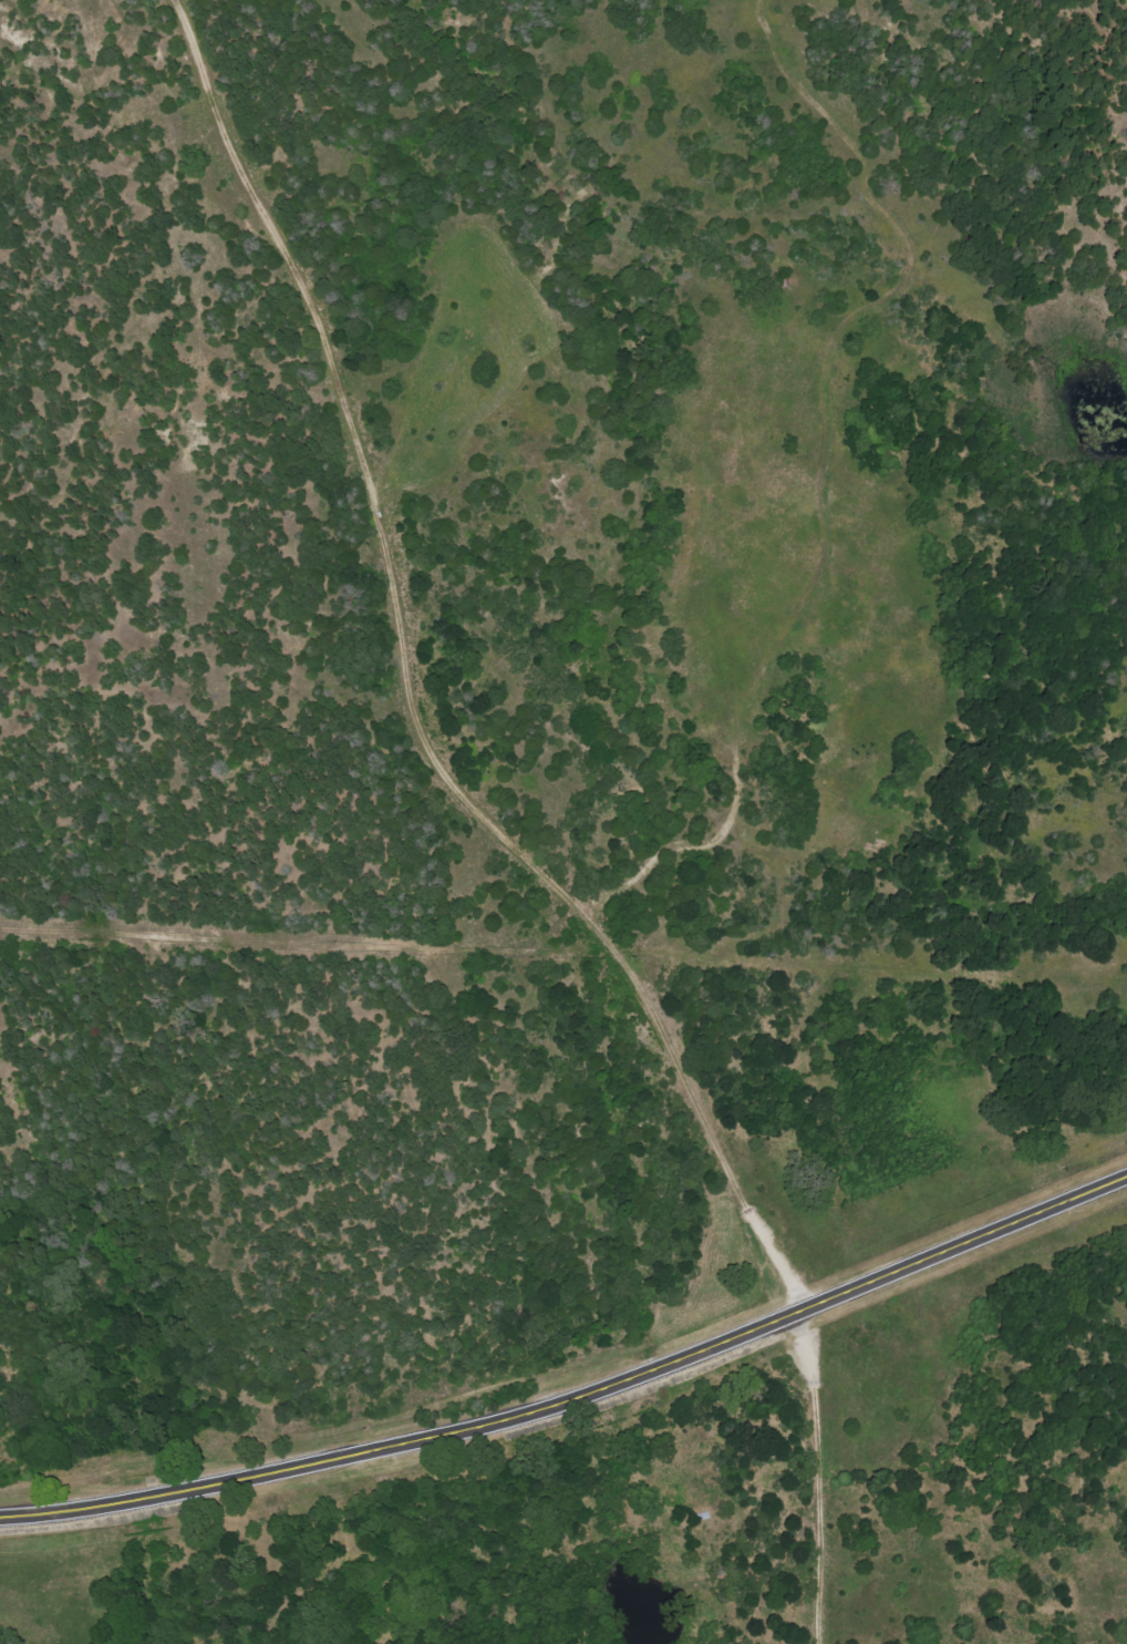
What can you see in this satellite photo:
road: (176, 387)
road: (766, 806)
road: (505, 829)
road: (577, 1389)

